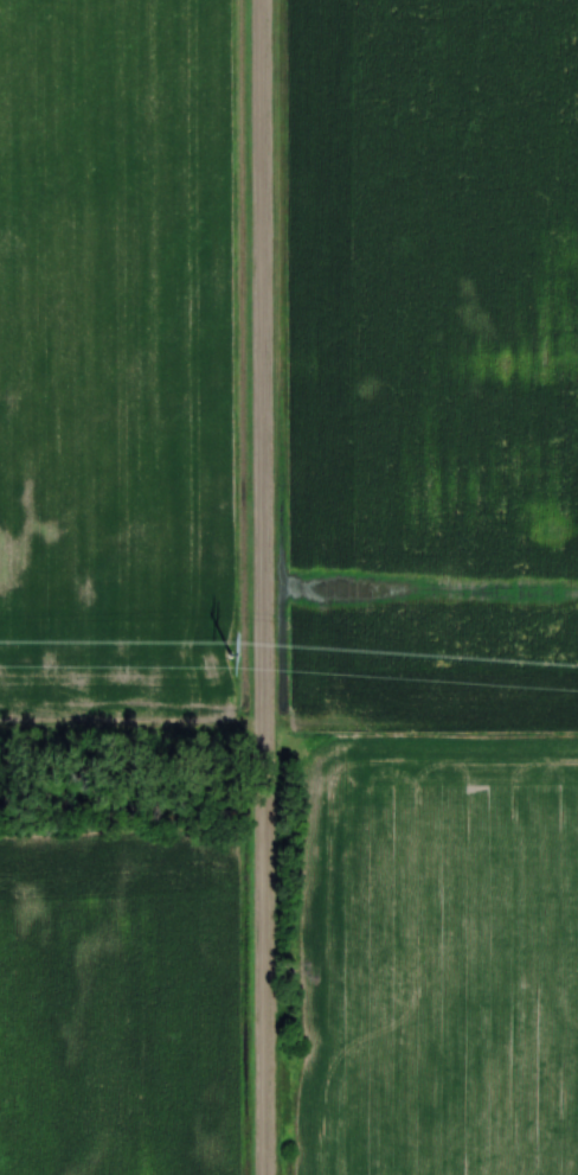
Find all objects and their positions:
road: (257, 587)
power tower: (227, 653)

